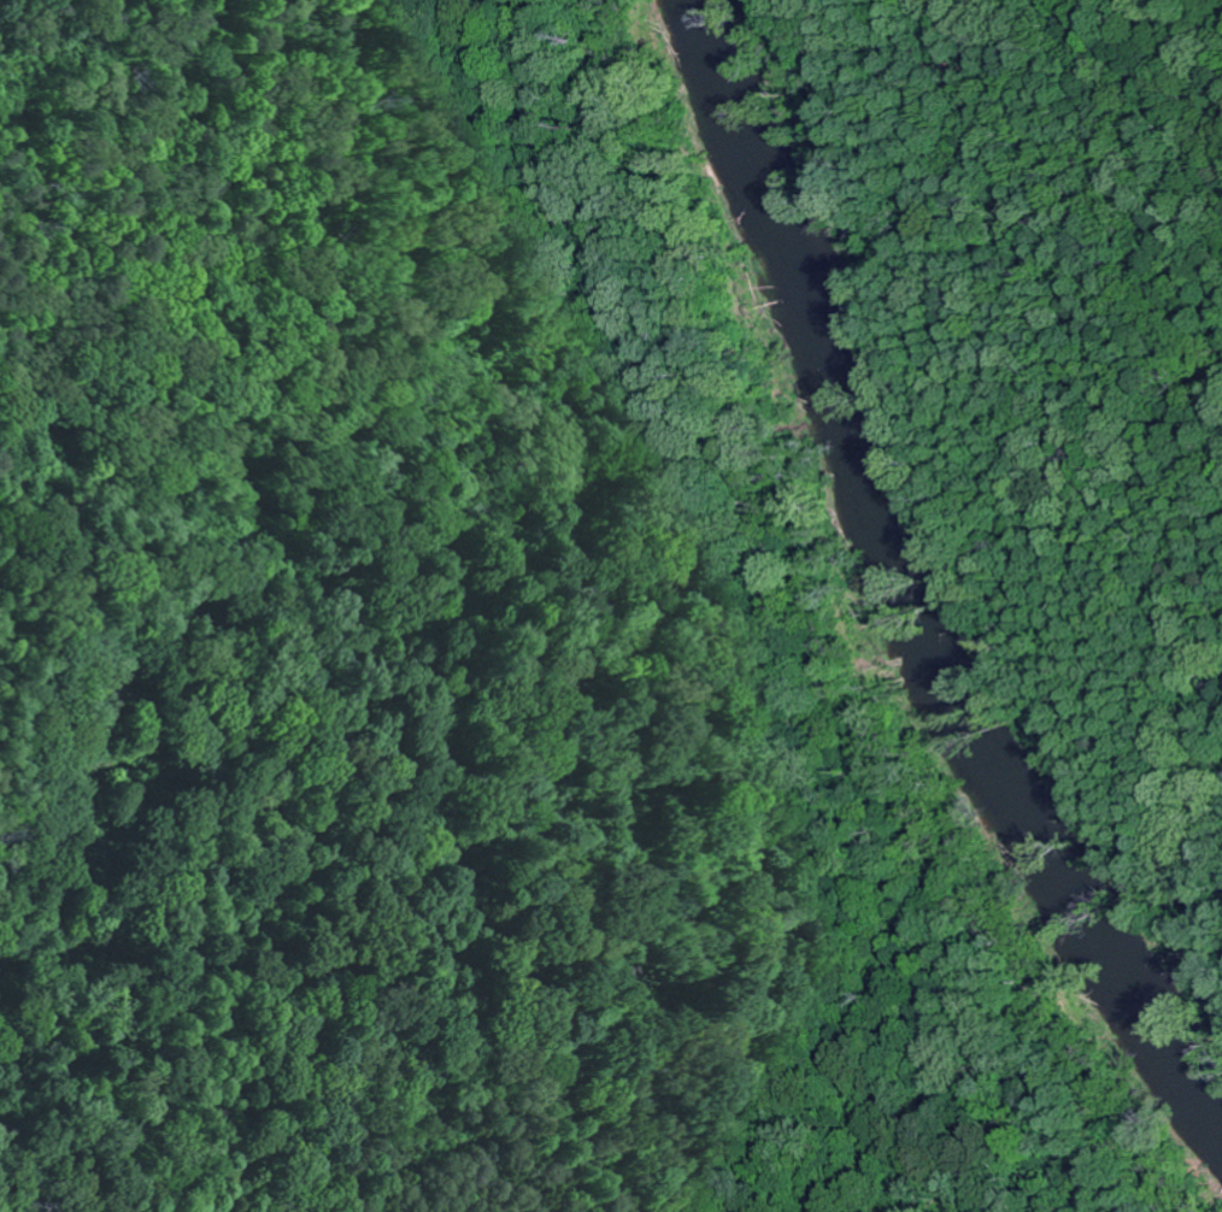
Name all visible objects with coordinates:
river: (910, 589)

